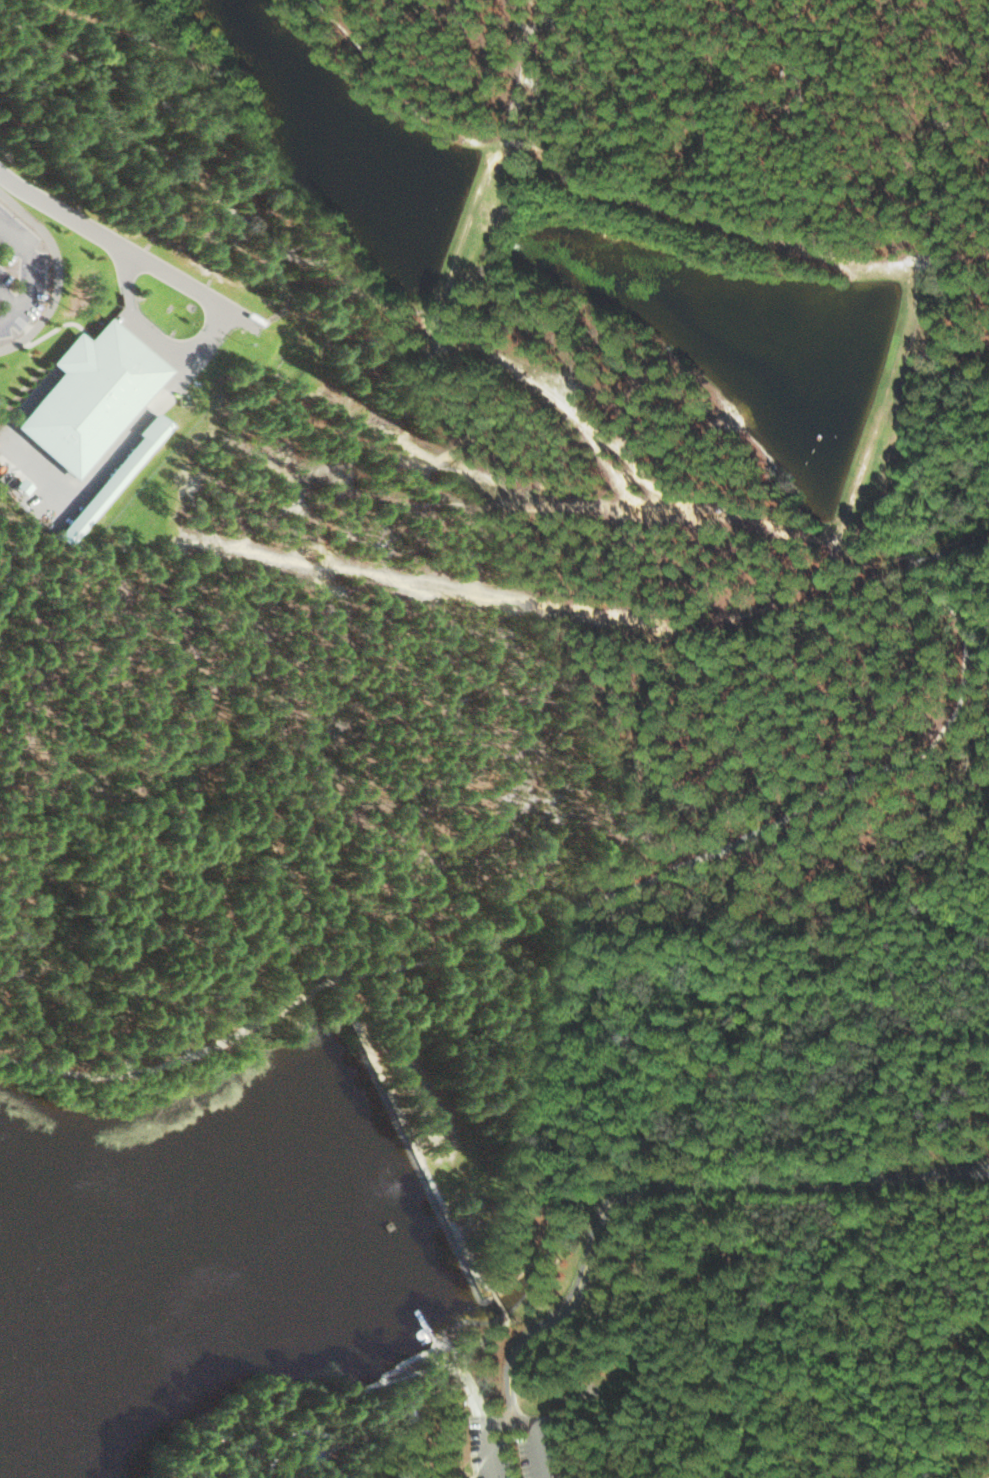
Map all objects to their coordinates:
road: (64, 204)
road: (201, 338)
building: (93, 395)
building: (116, 478)
road: (330, 987)
dam: (326, 1031)
dam: (385, 1165)
road: (670, 1184)
park: (487, 1223)
dam: (441, 1294)
dam: (444, 1300)
road: (504, 1307)
road: (484, 1345)
road: (364, 1438)

